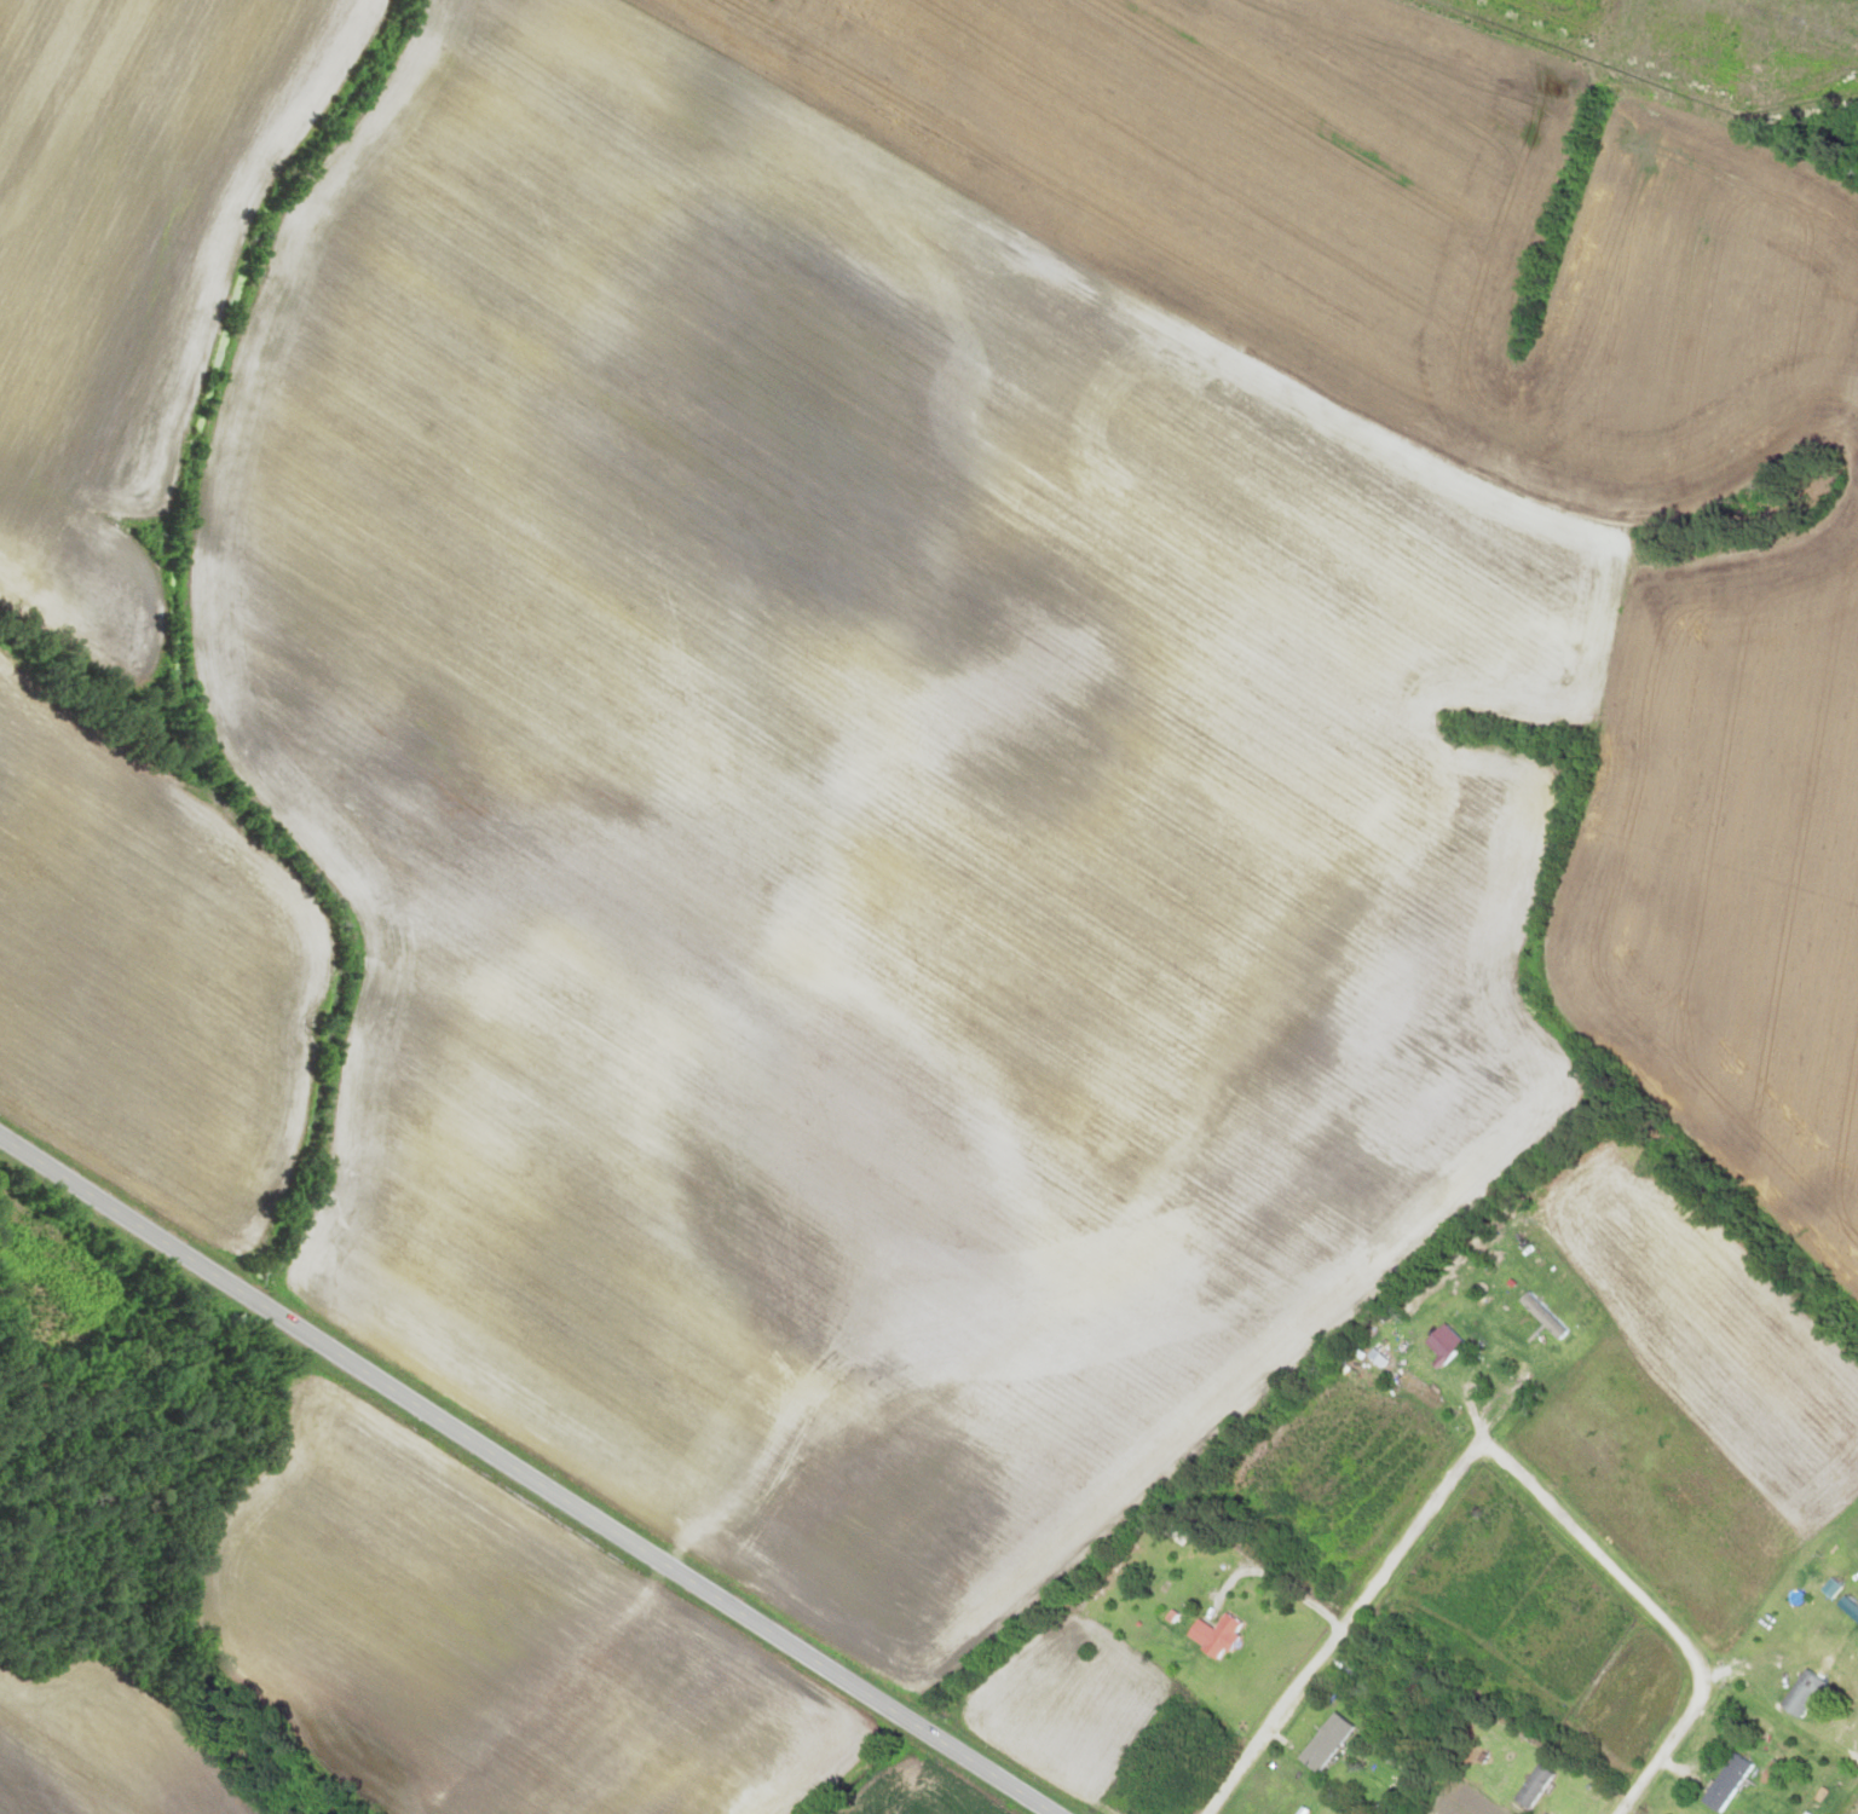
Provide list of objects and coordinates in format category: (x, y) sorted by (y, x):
crop: (140, 965)
building: (1551, 1317)
building: (1447, 1339)
road: (1496, 1457)
road: (529, 1473)
building: (1225, 1635)
building: (1392, 1692)
building: (1798, 1694)
building: (1340, 1746)
building: (1737, 1783)
building: (1542, 1786)

